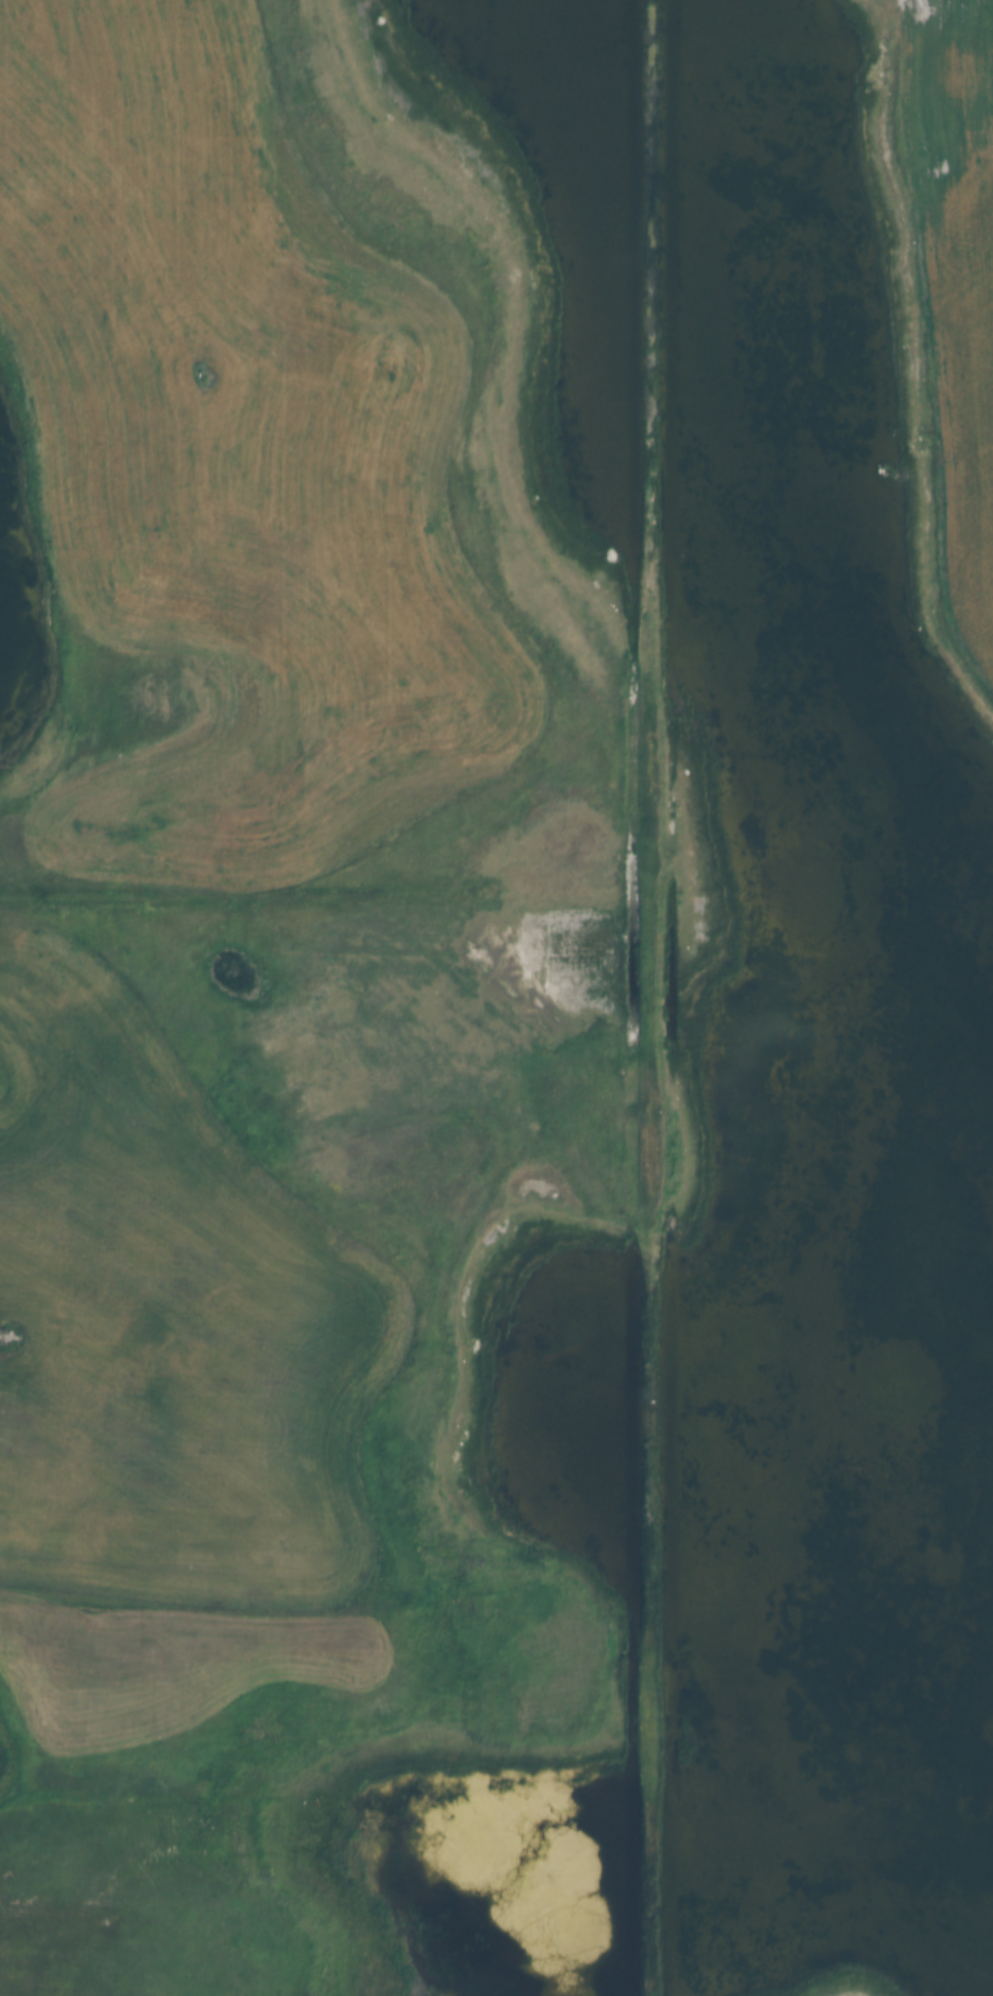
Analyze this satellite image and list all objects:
road: (644, 997)
crop: (162, 1313)

